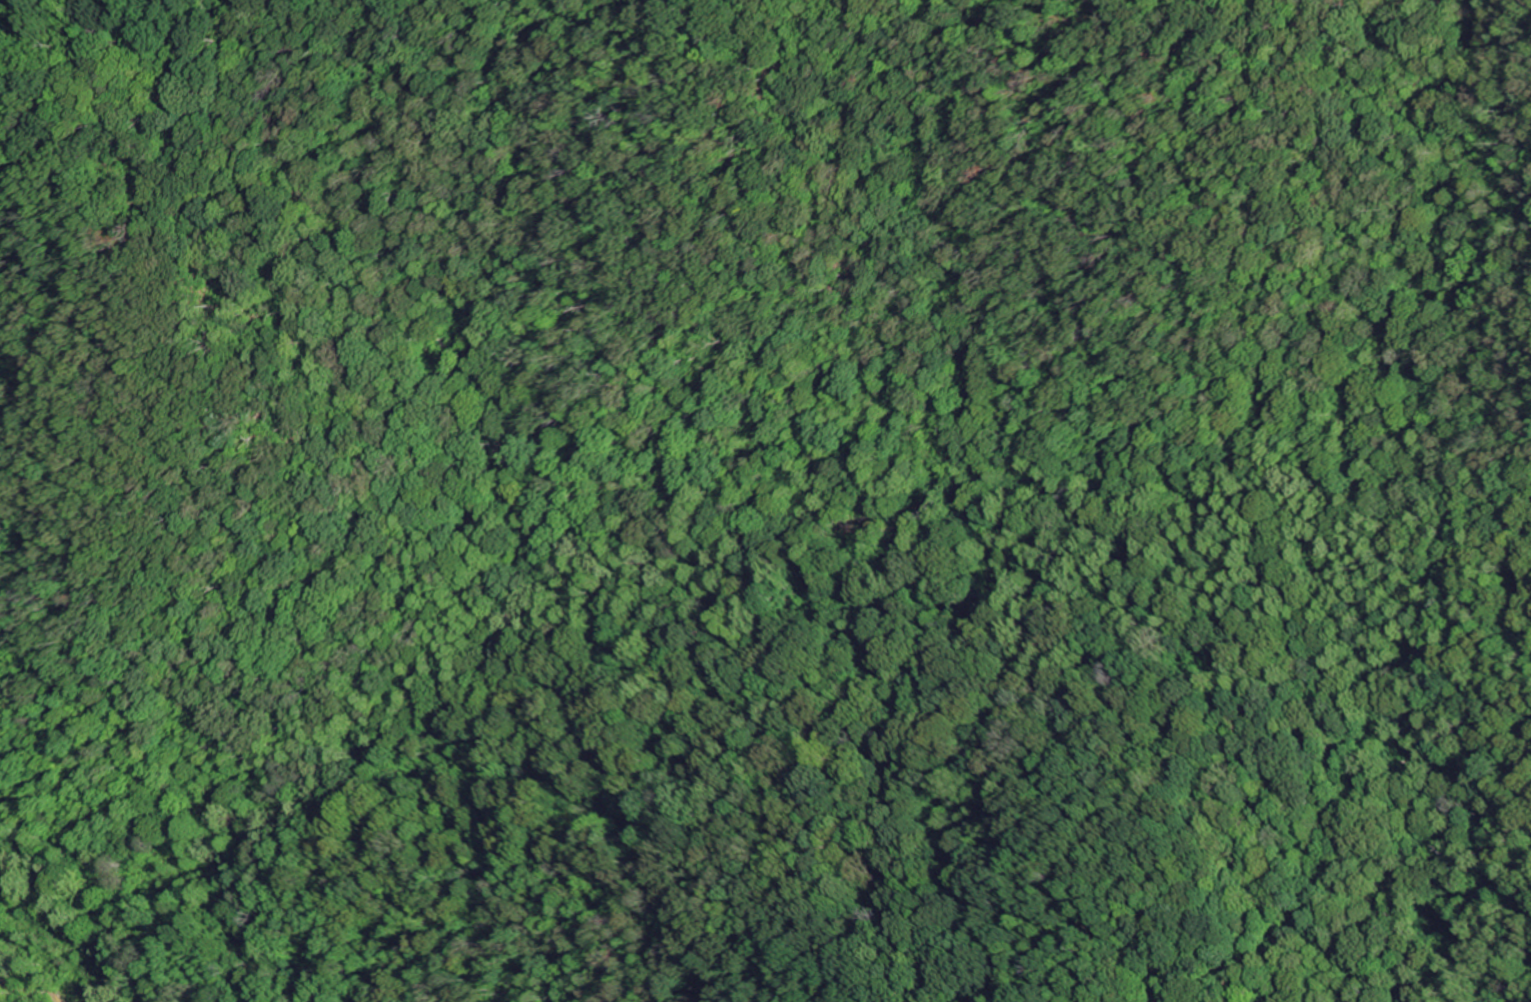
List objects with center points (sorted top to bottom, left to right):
road: (190, 870)

